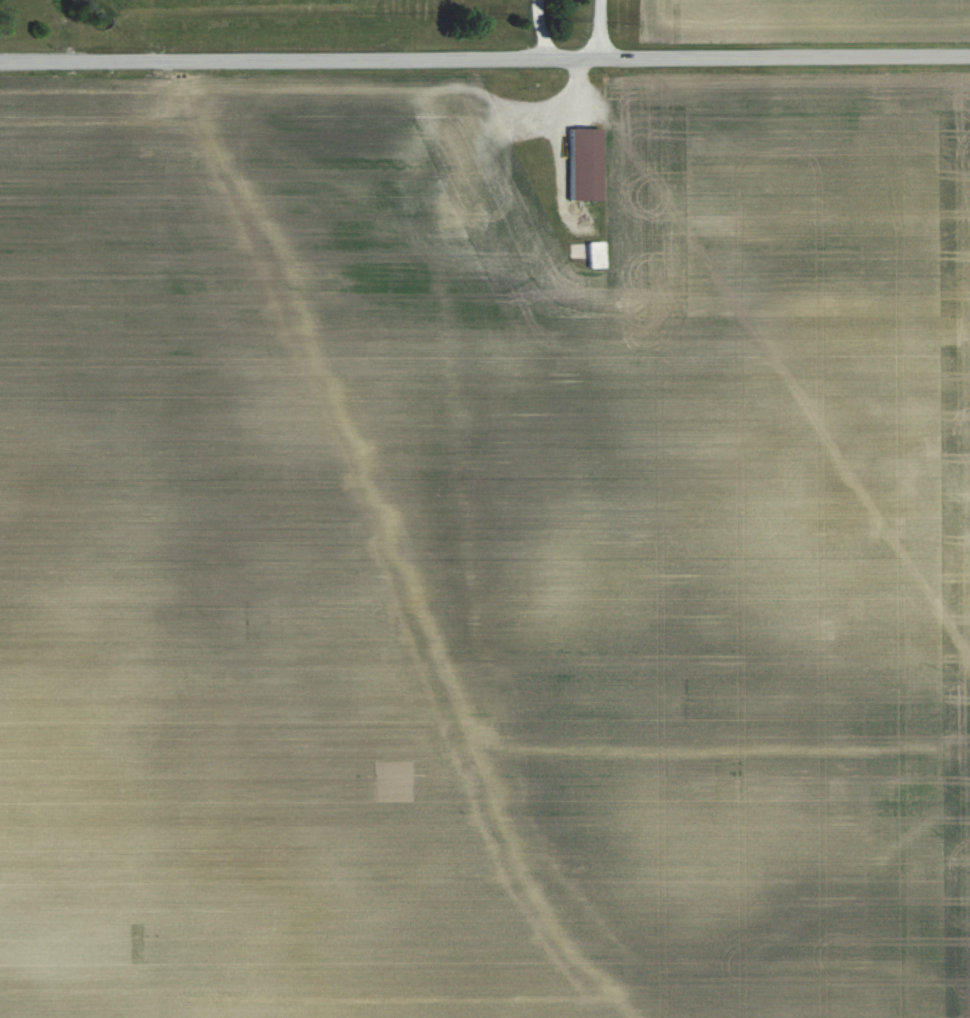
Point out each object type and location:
road: (543, 26)
road: (601, 26)
road: (485, 53)
building: (458, 159)
building: (582, 163)
building: (595, 253)

